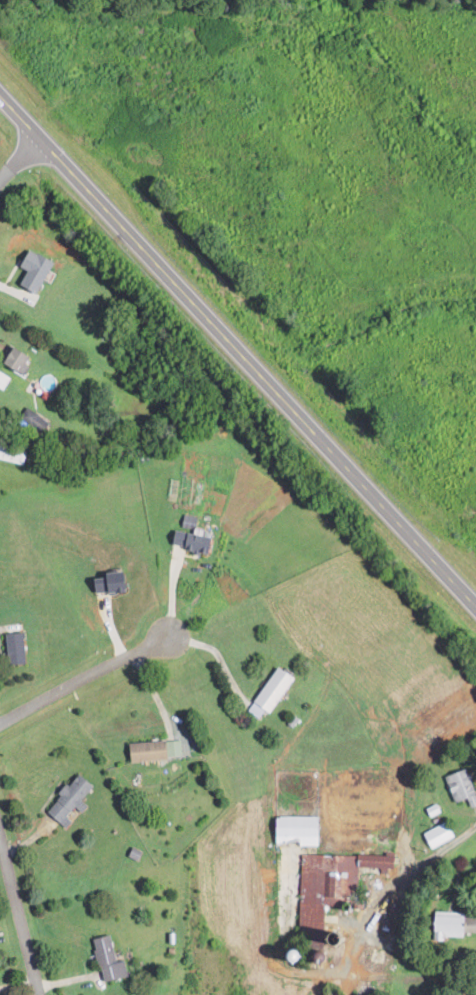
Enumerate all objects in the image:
road: (19, 157)
building: (38, 270)
road: (237, 350)
building: (22, 358)
building: (4, 379)
building: (14, 452)
building: (192, 520)
building: (195, 540)
building: (114, 582)
building: (17, 647)
road: (217, 655)
road: (83, 679)
building: (272, 691)
road: (155, 693)
building: (158, 749)
building: (463, 785)
building: (73, 797)
building: (302, 829)
building: (442, 833)
building: (381, 860)
road: (422, 862)
building: (320, 888)
road: (20, 916)
building: (459, 923)
building: (111, 959)

